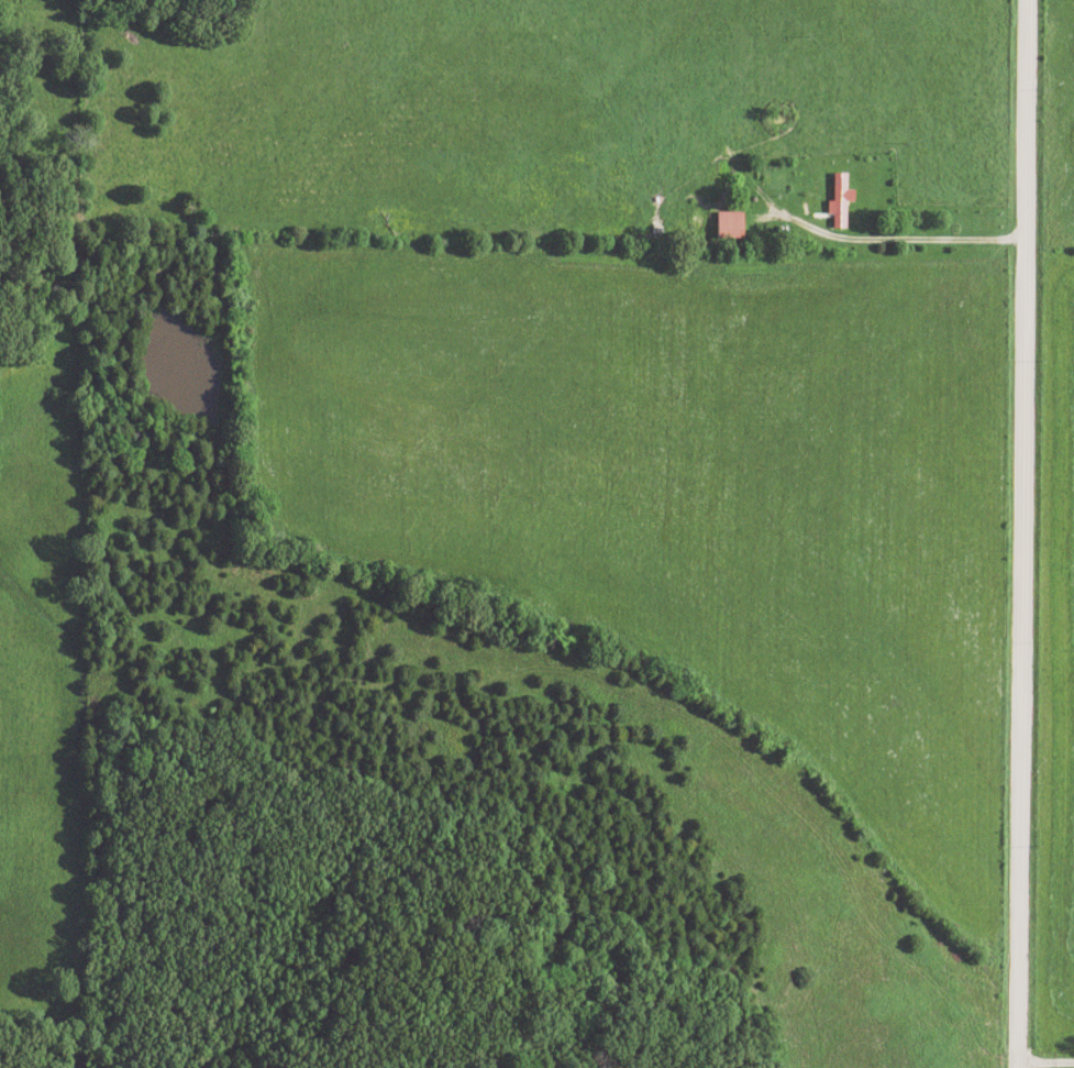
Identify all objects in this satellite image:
building: (840, 200)
building: (729, 225)
road: (907, 240)
road: (1015, 533)
road: (1042, 1065)

